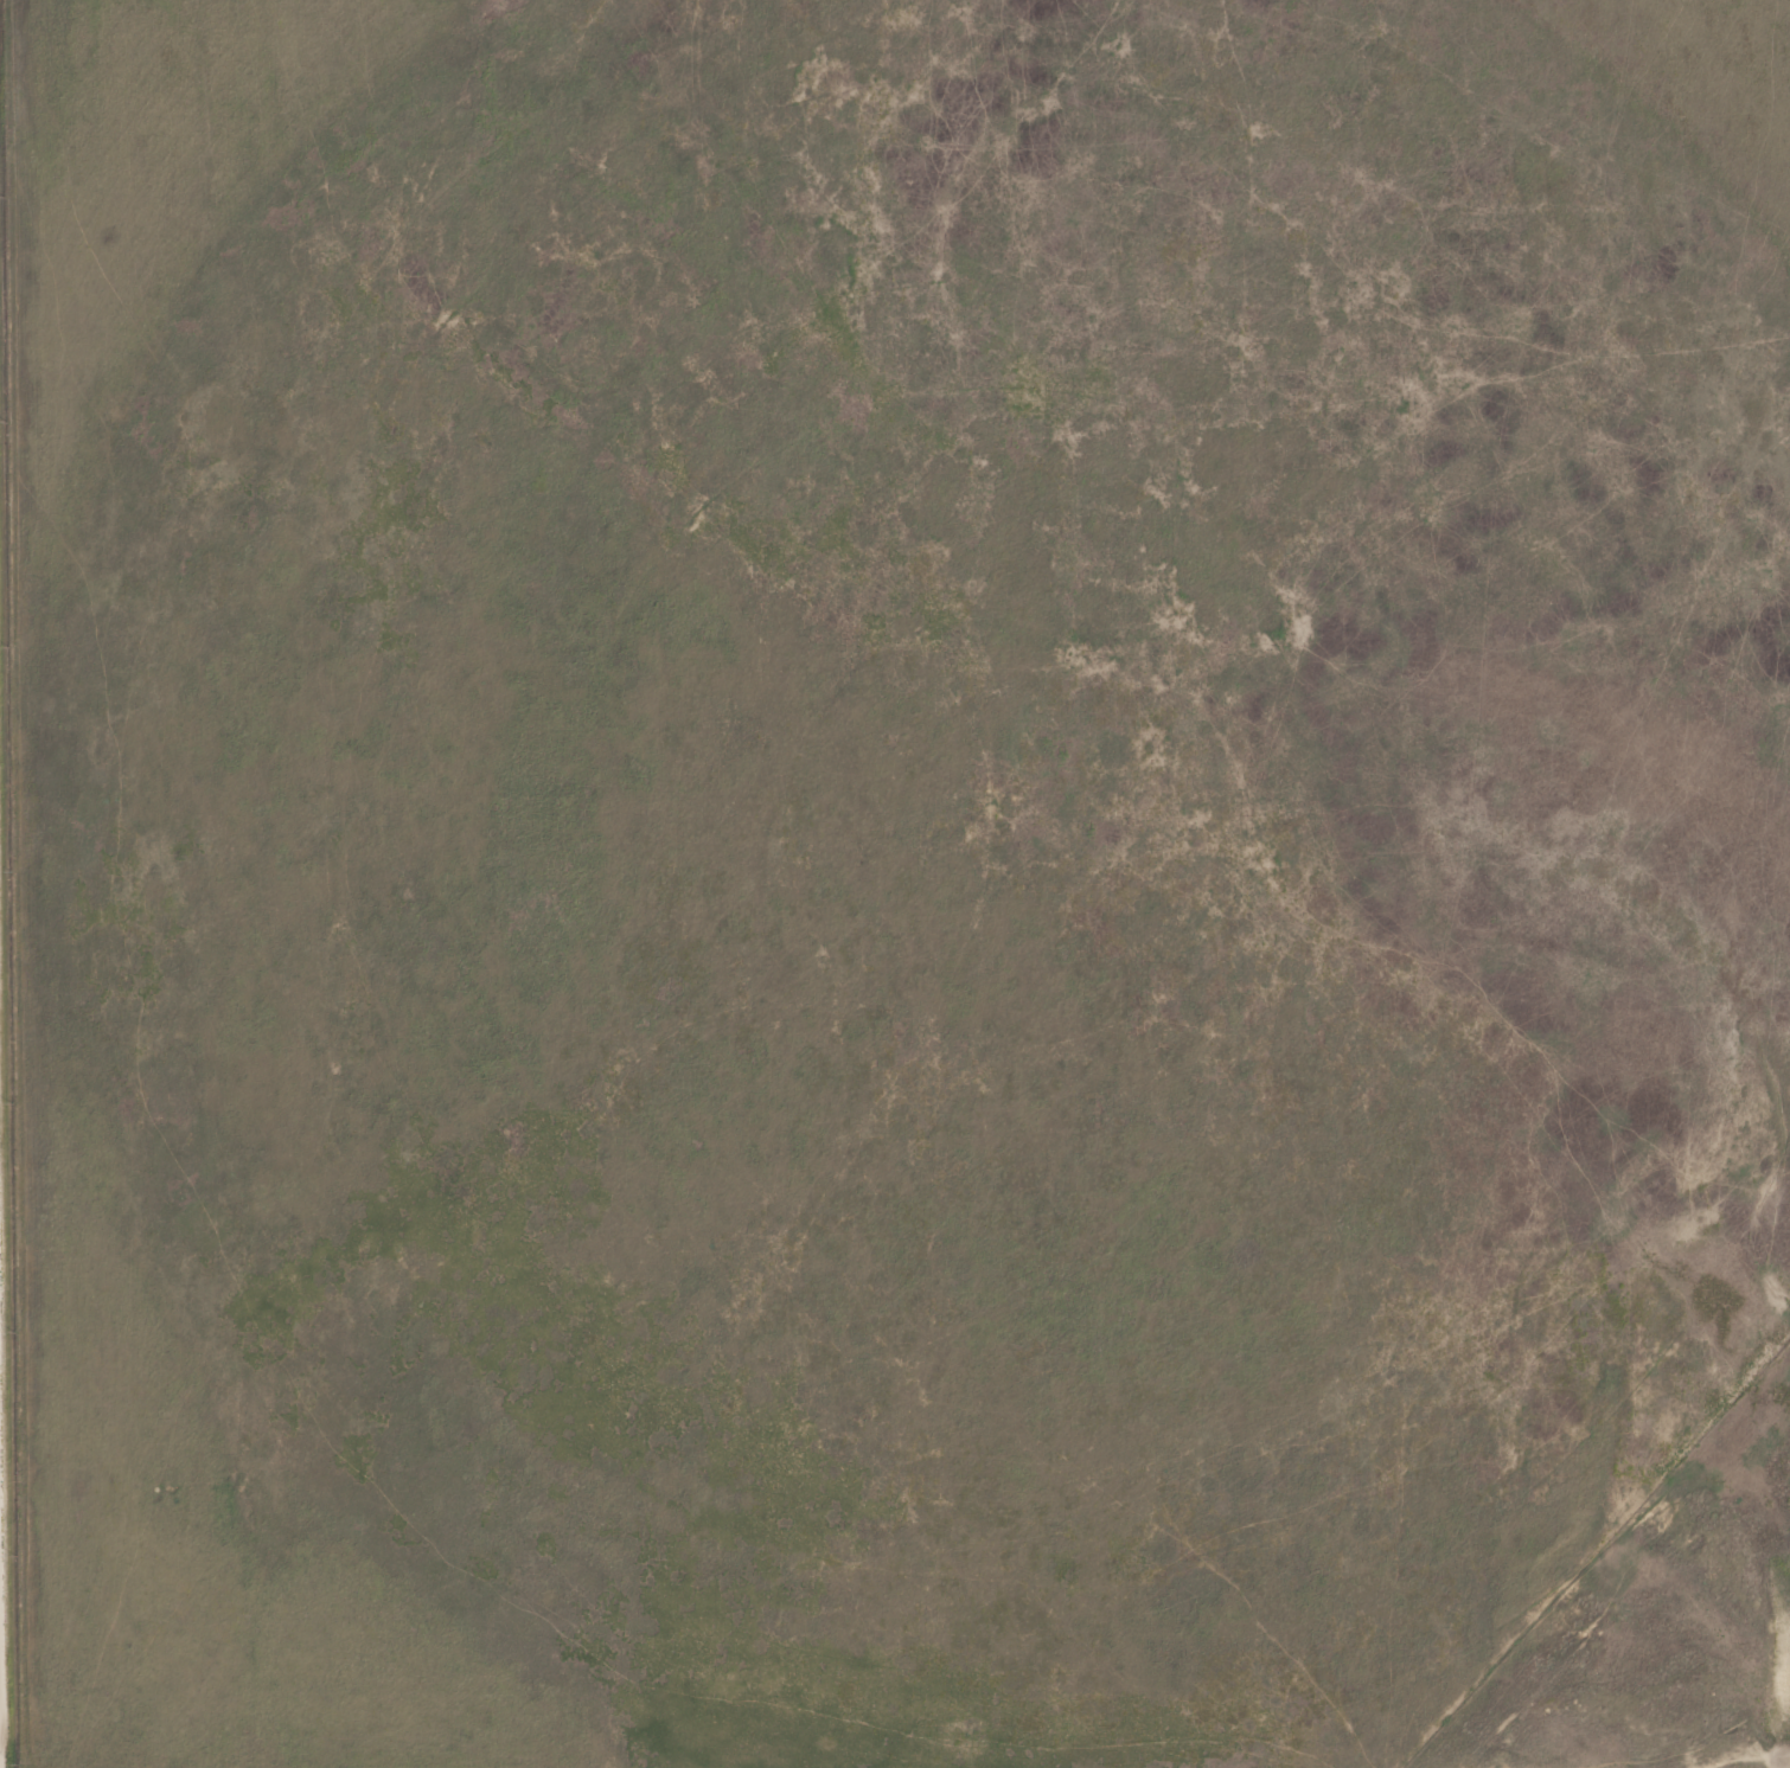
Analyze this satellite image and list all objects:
road: (0, 1721)

